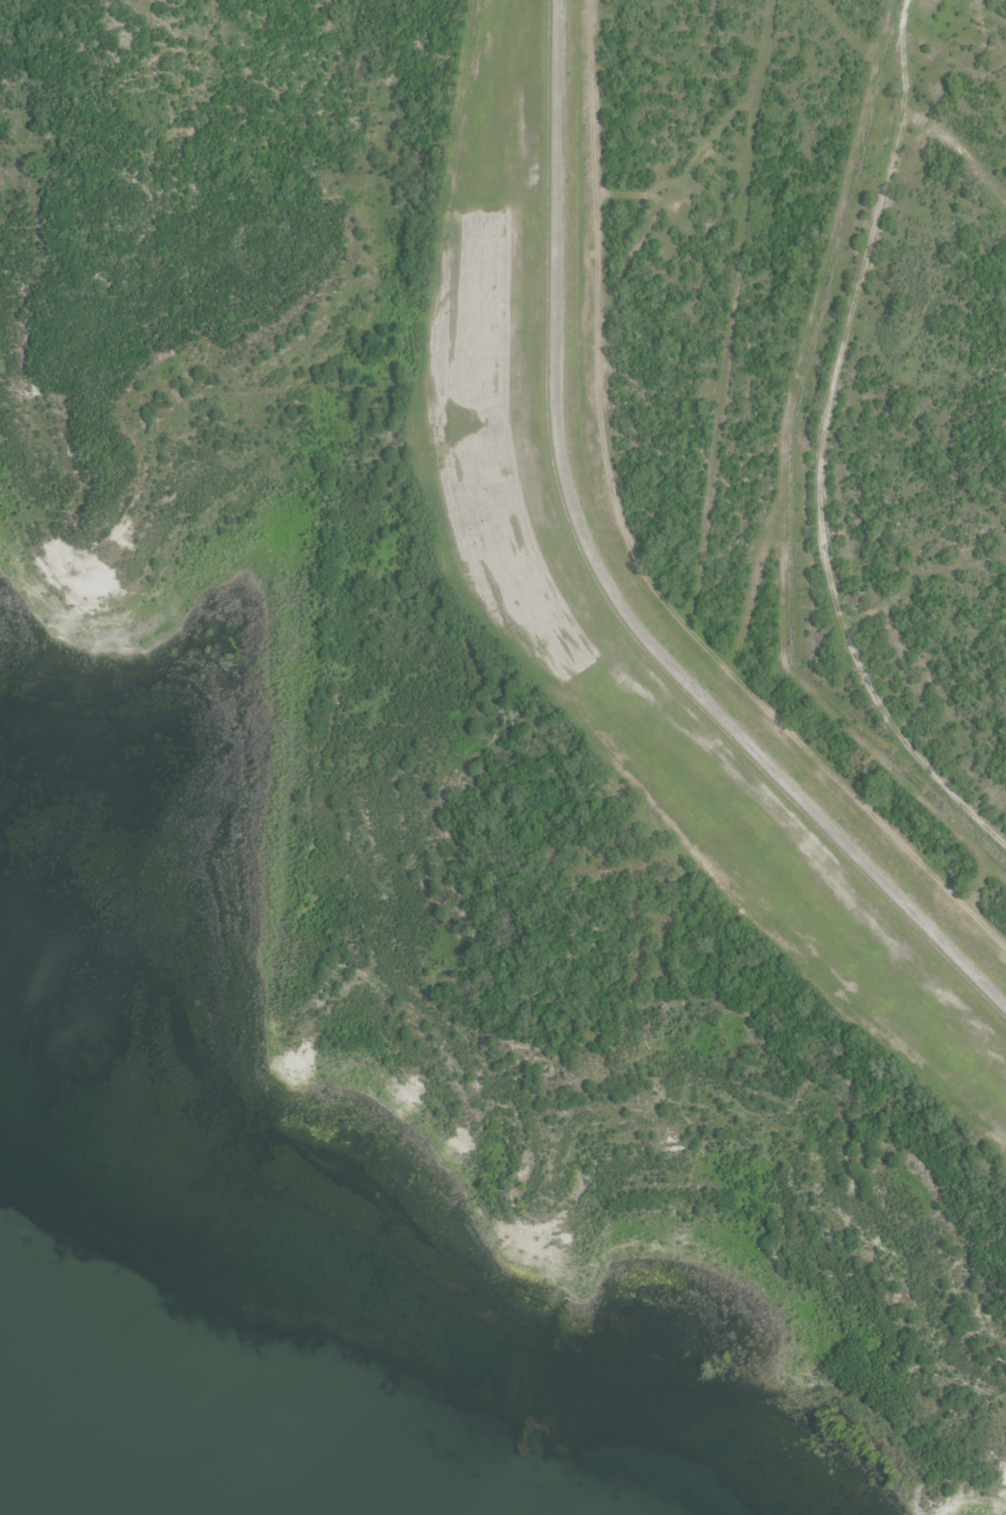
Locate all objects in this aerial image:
road: (604, 578)

